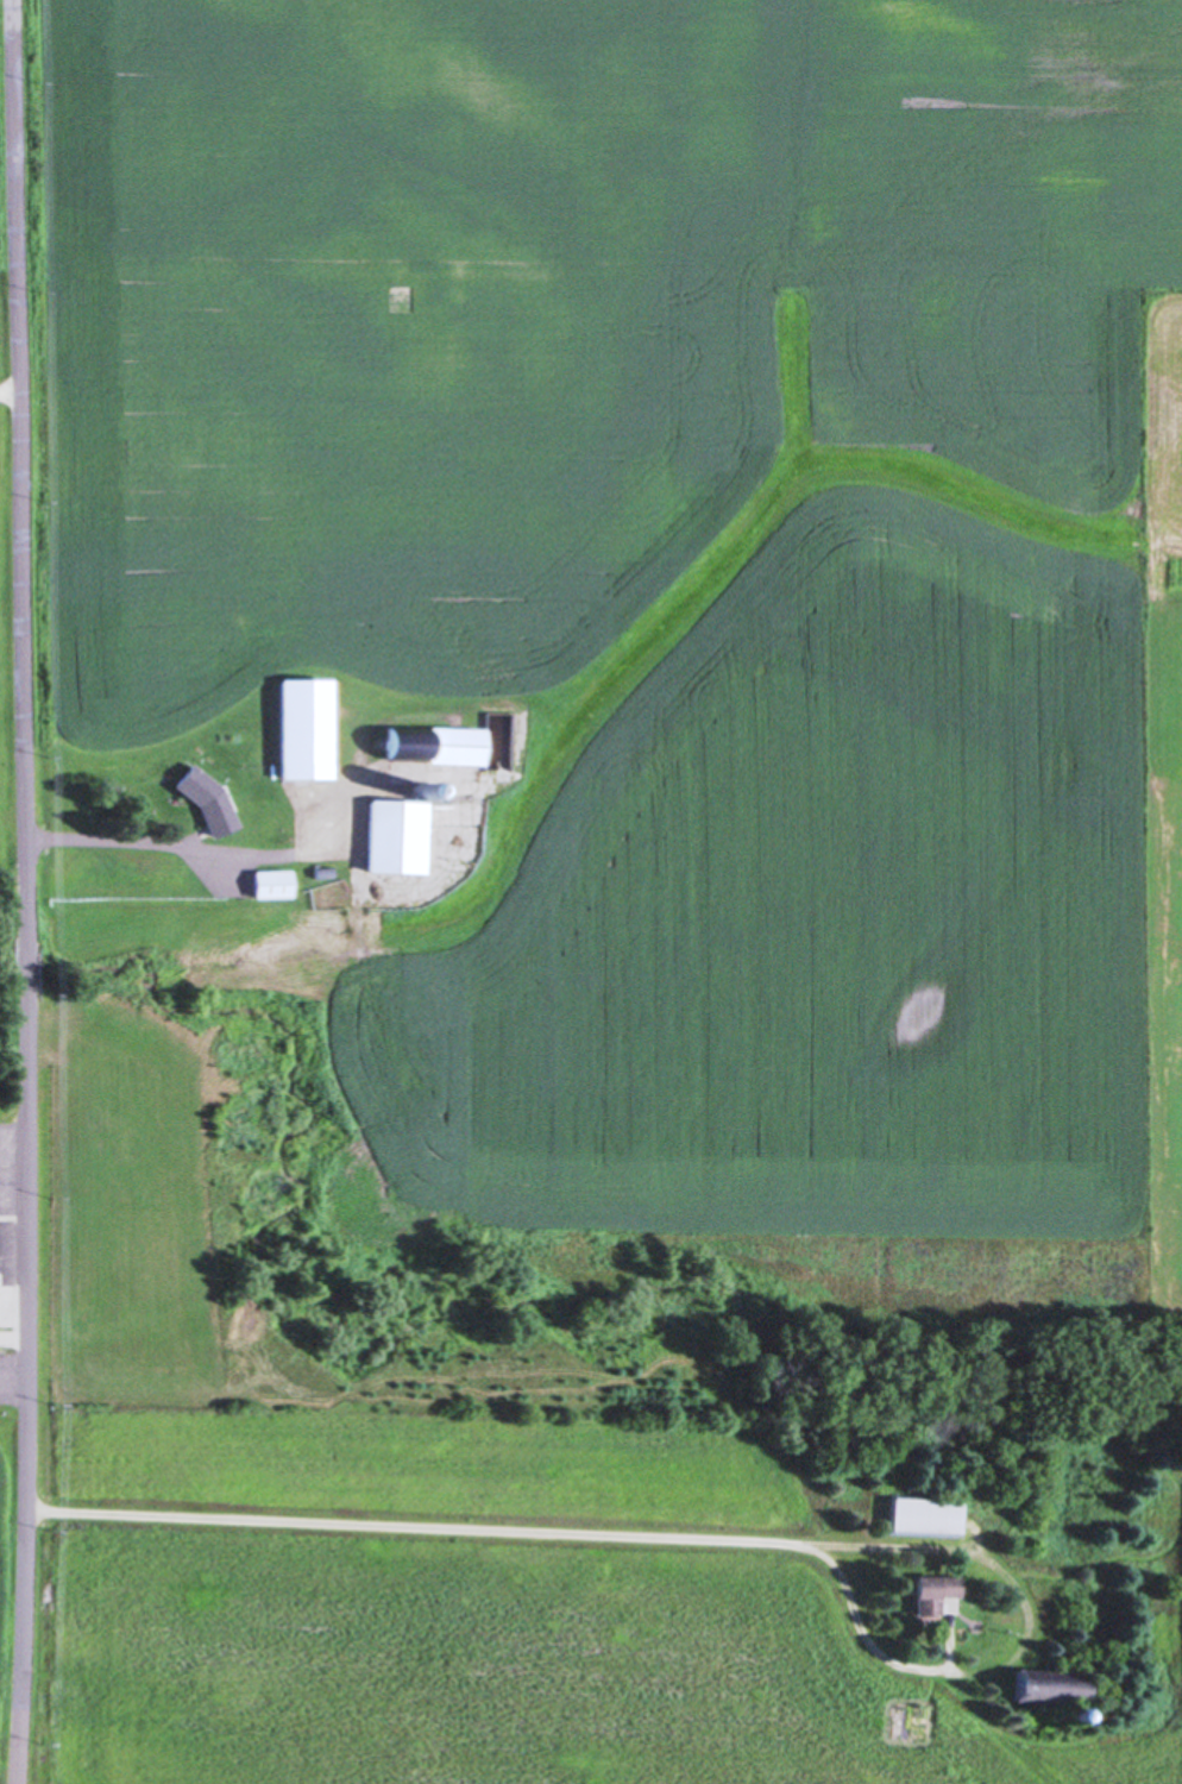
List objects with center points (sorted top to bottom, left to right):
road: (8, 388)
building: (298, 730)
building: (451, 748)
building: (201, 802)
building: (391, 838)
building: (268, 885)
road: (25, 892)
building: (922, 1516)
road: (520, 1528)
building: (930, 1594)
building: (1032, 1697)

